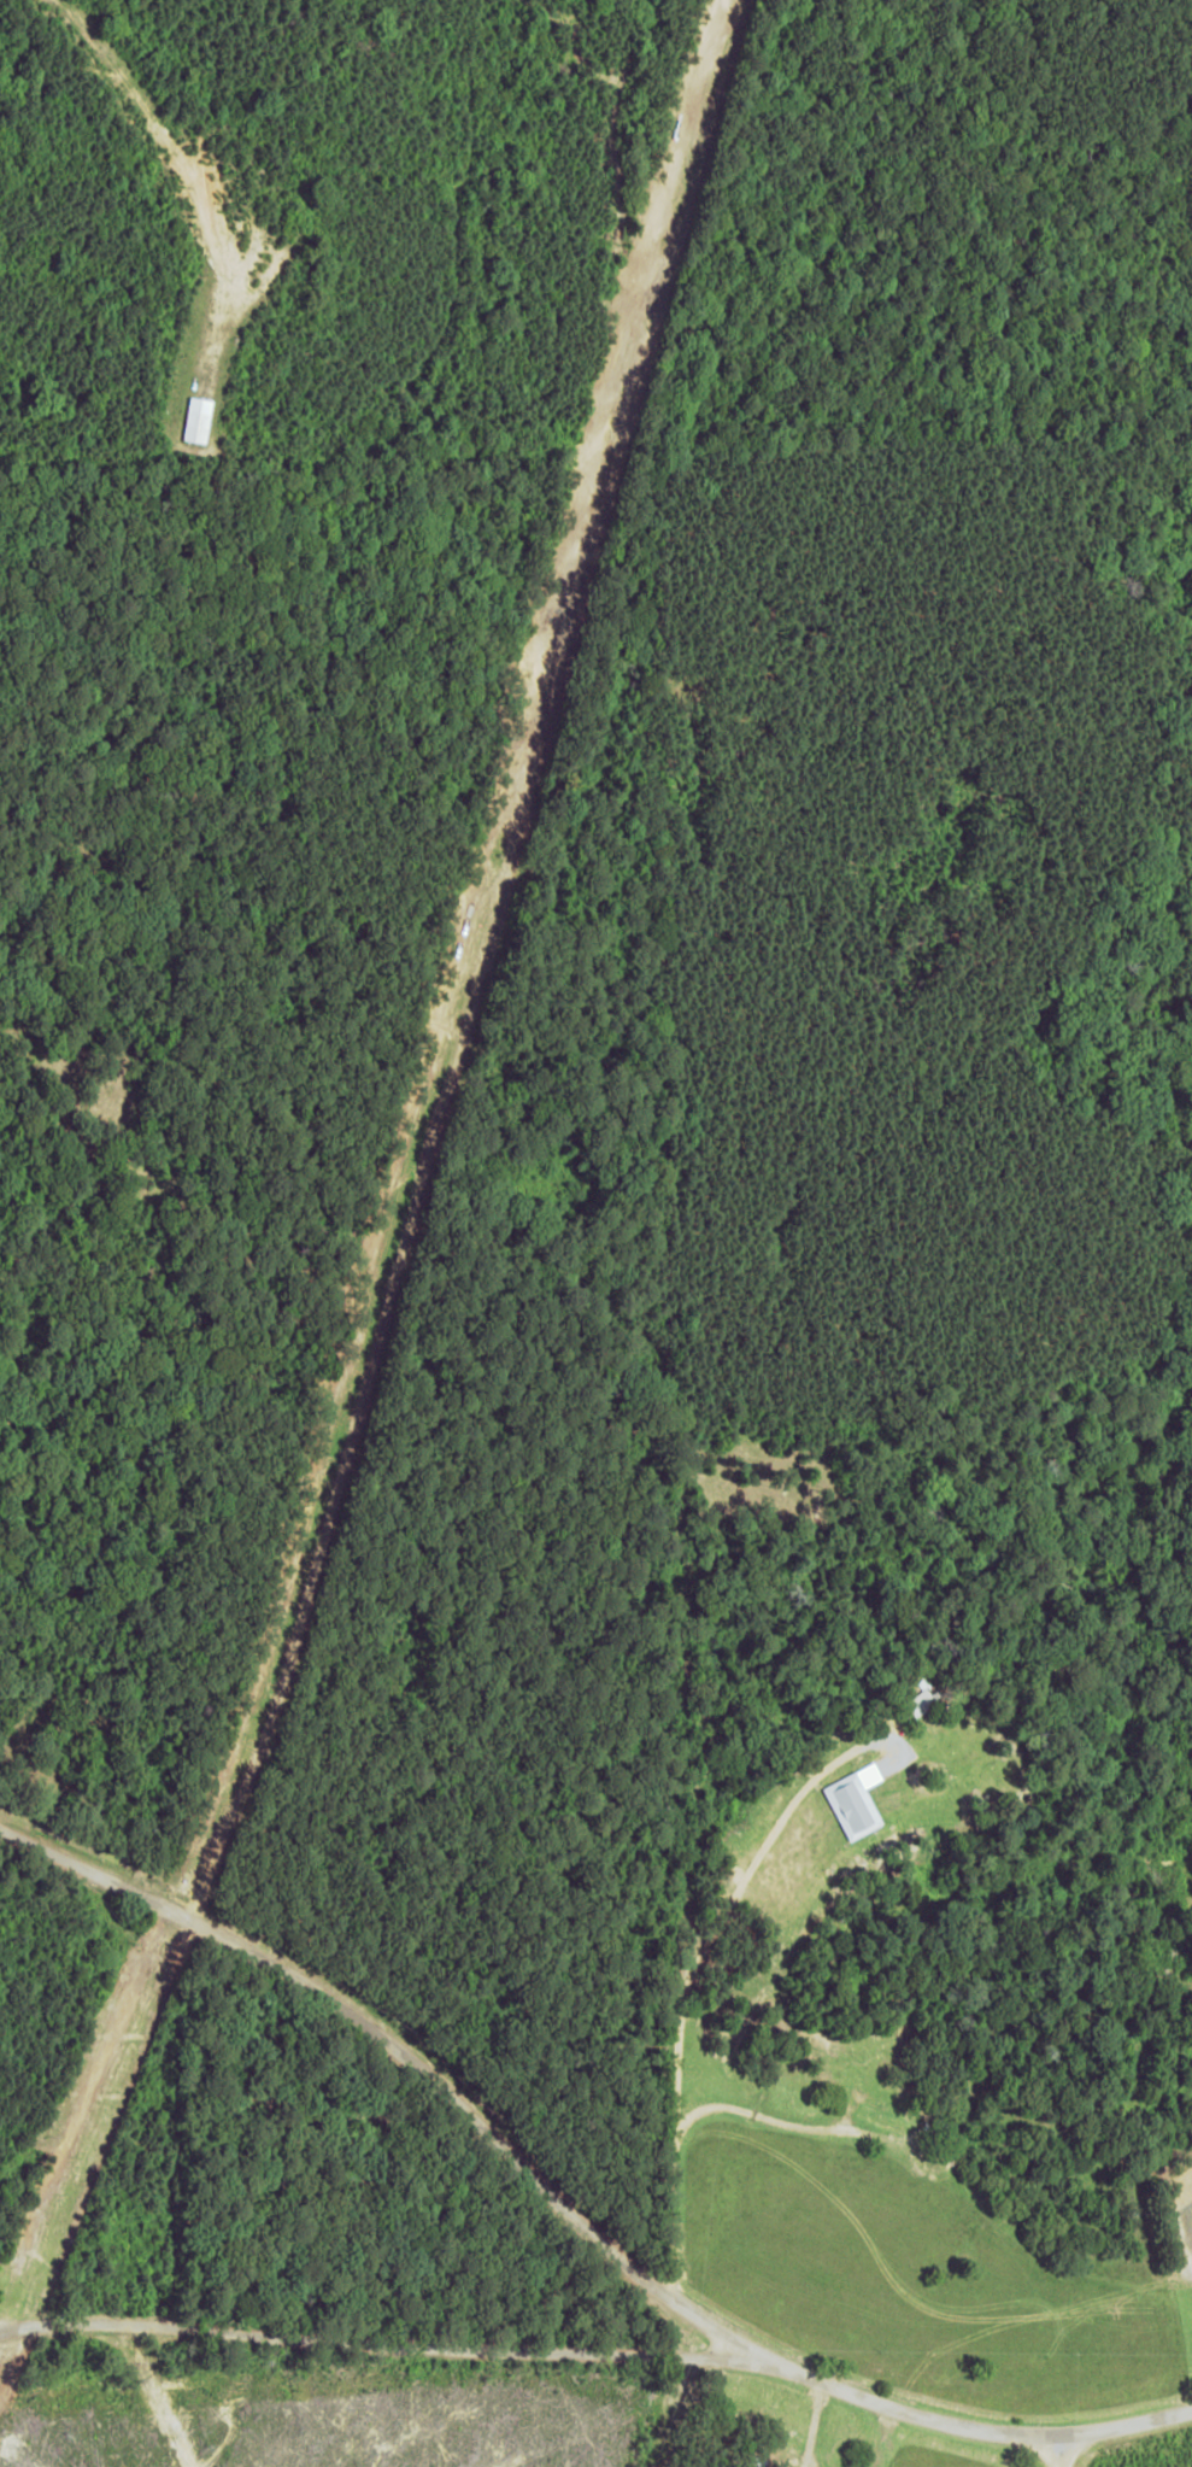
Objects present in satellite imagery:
building: (198, 418)
building: (855, 1800)
road: (419, 2047)
road: (601, 2350)
road: (1062, 2453)

